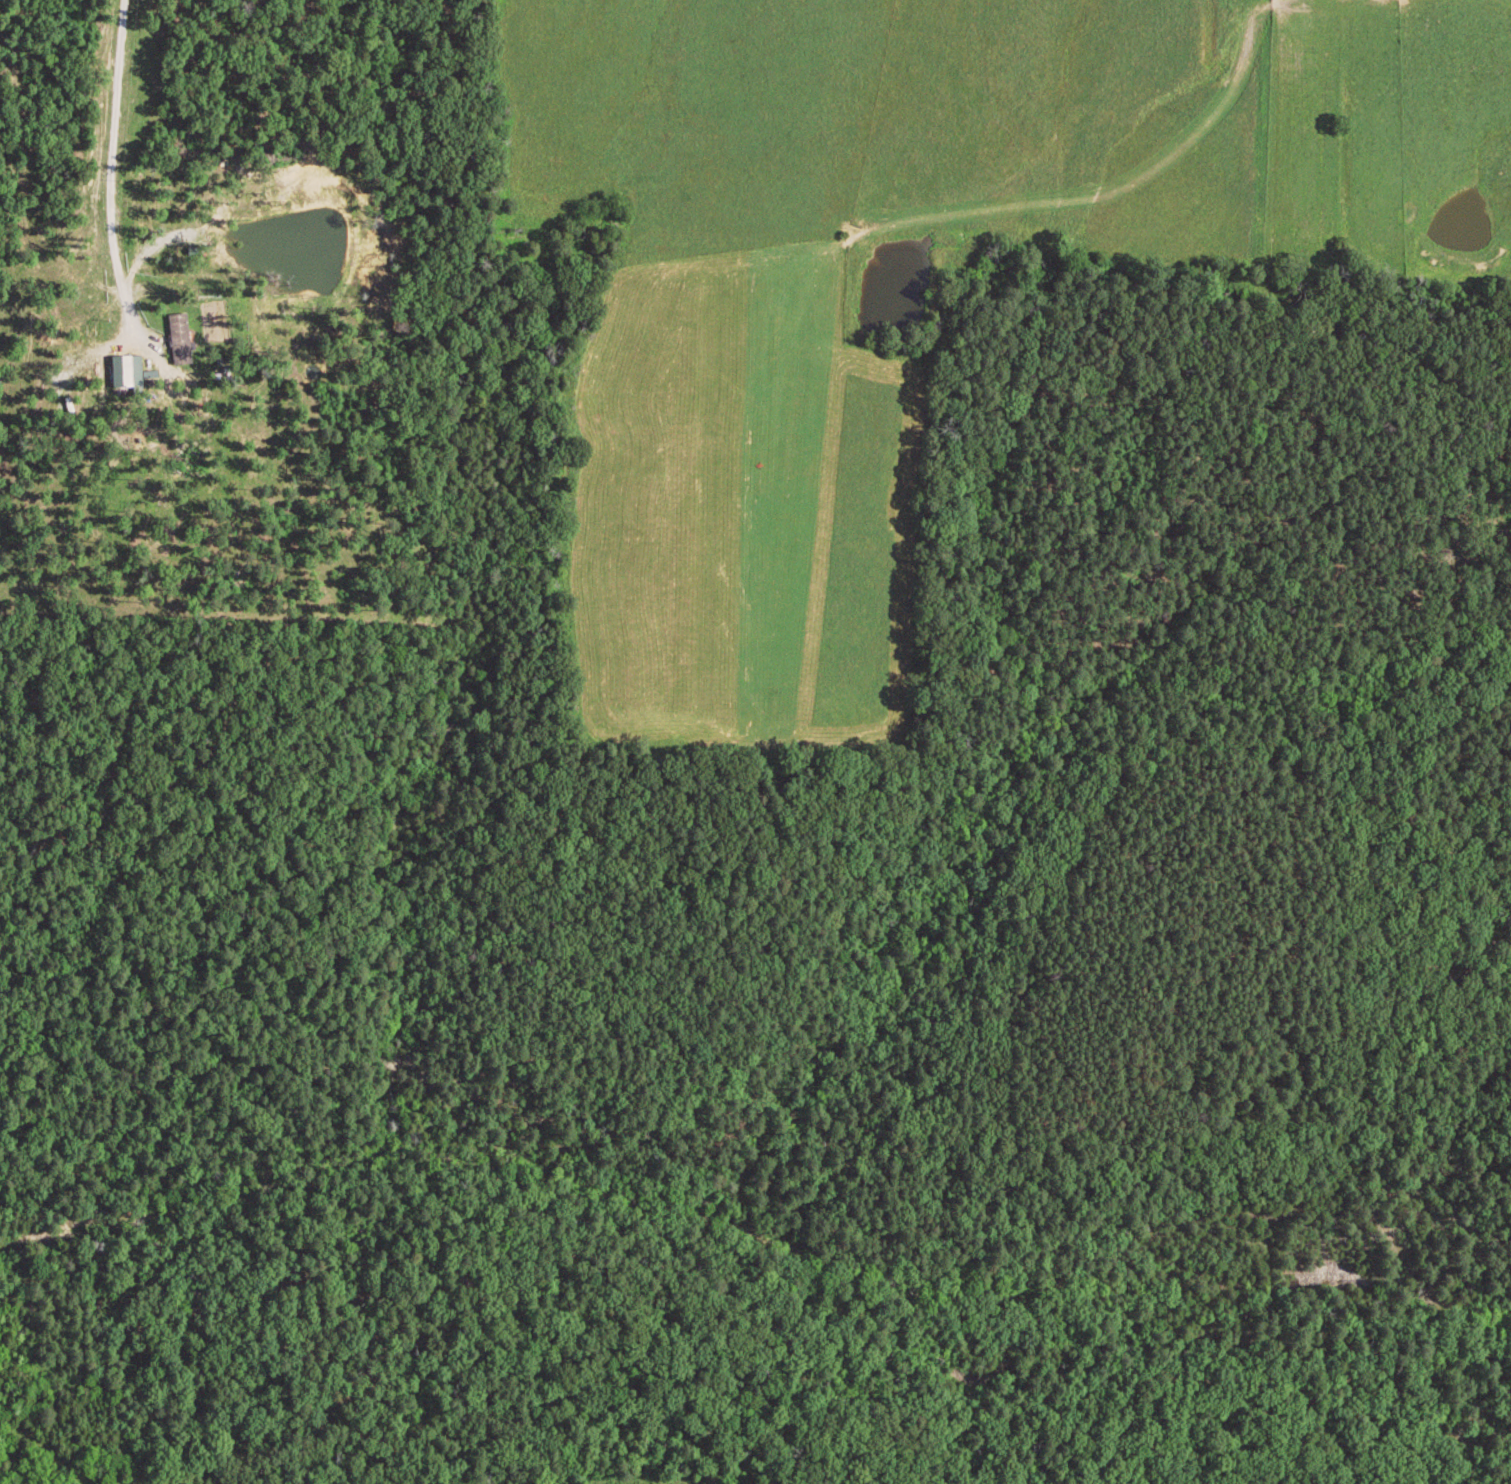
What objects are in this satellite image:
building: (181, 321)
building: (134, 374)

